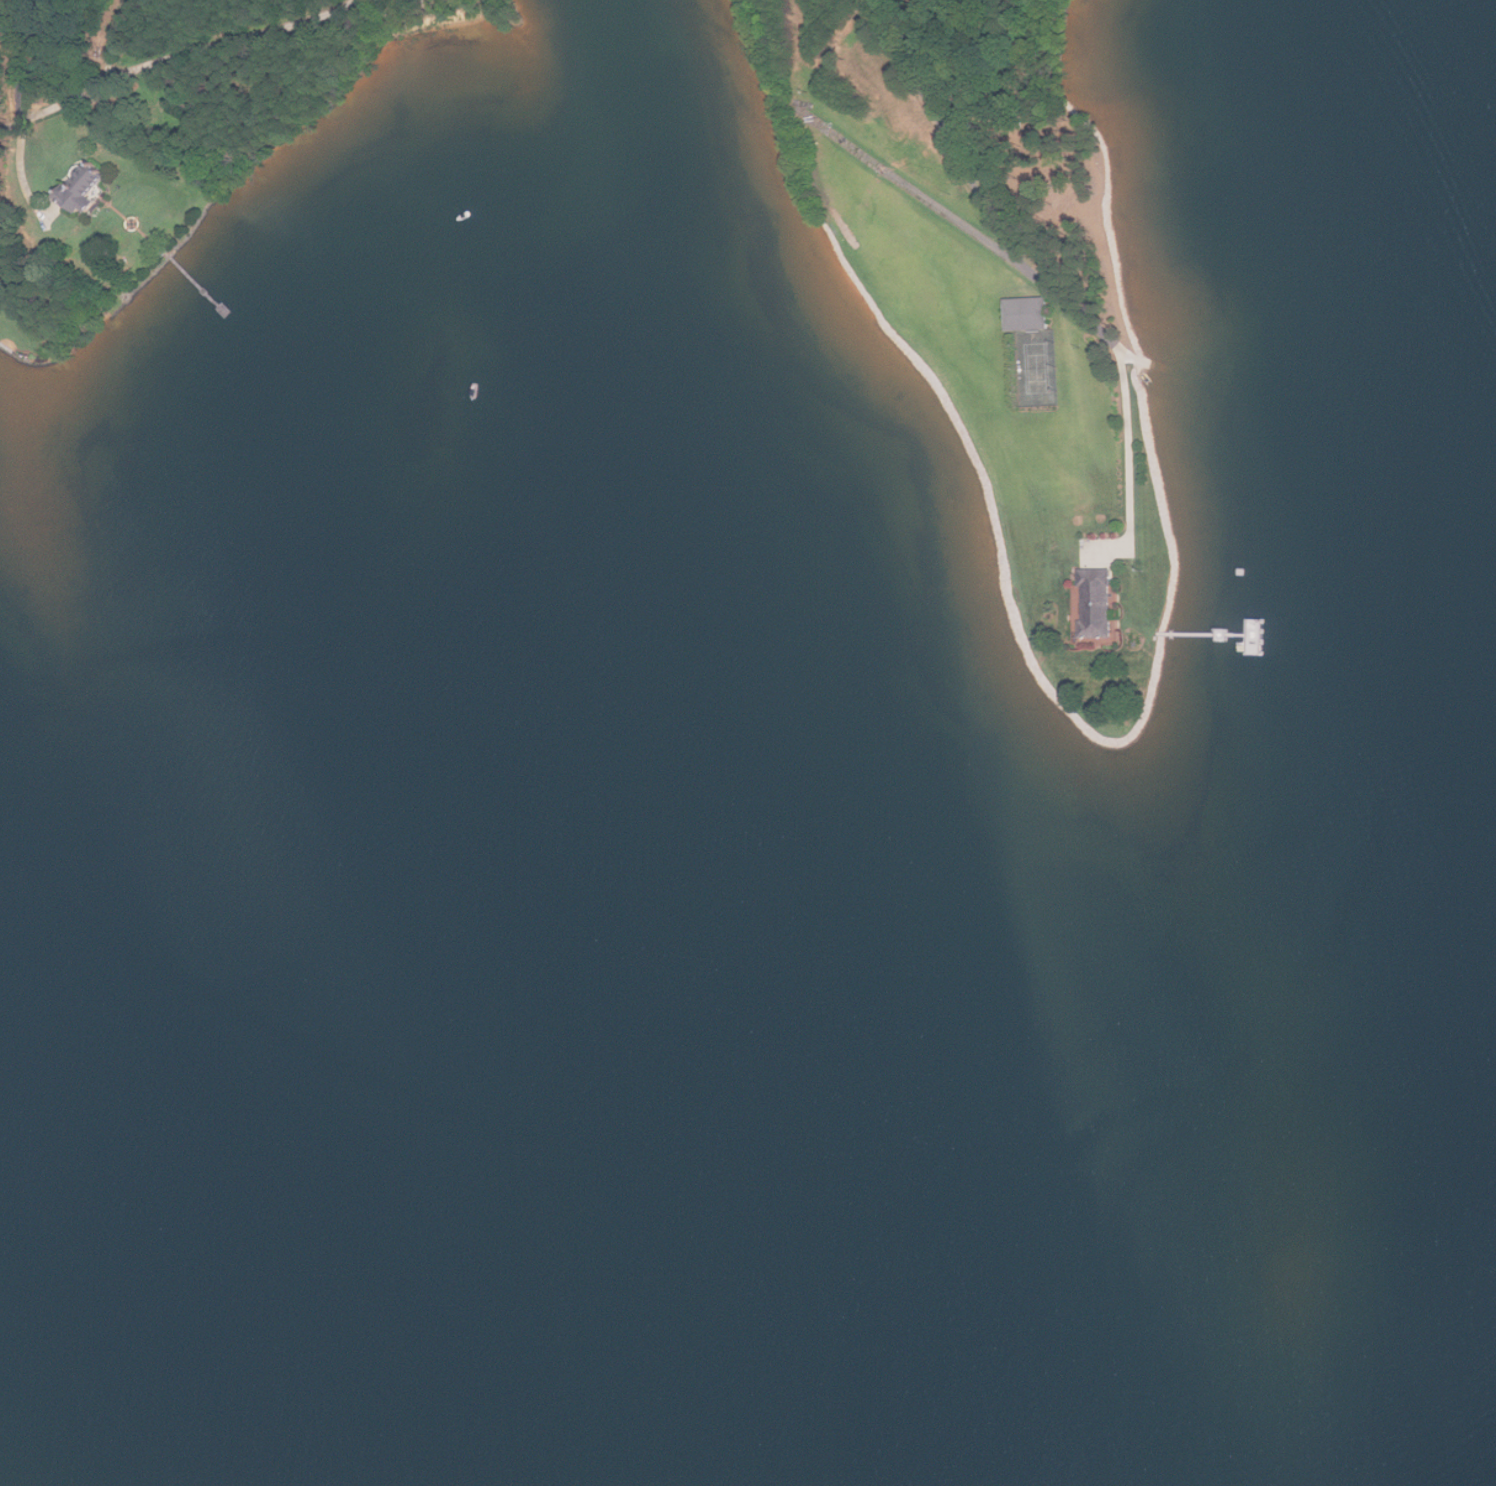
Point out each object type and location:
road: (20, 114)
road: (944, 128)
building: (80, 190)
road: (961, 221)
building: (1029, 314)
park: (1038, 368)
road: (1130, 450)
building: (1097, 604)
building: (1258, 650)

